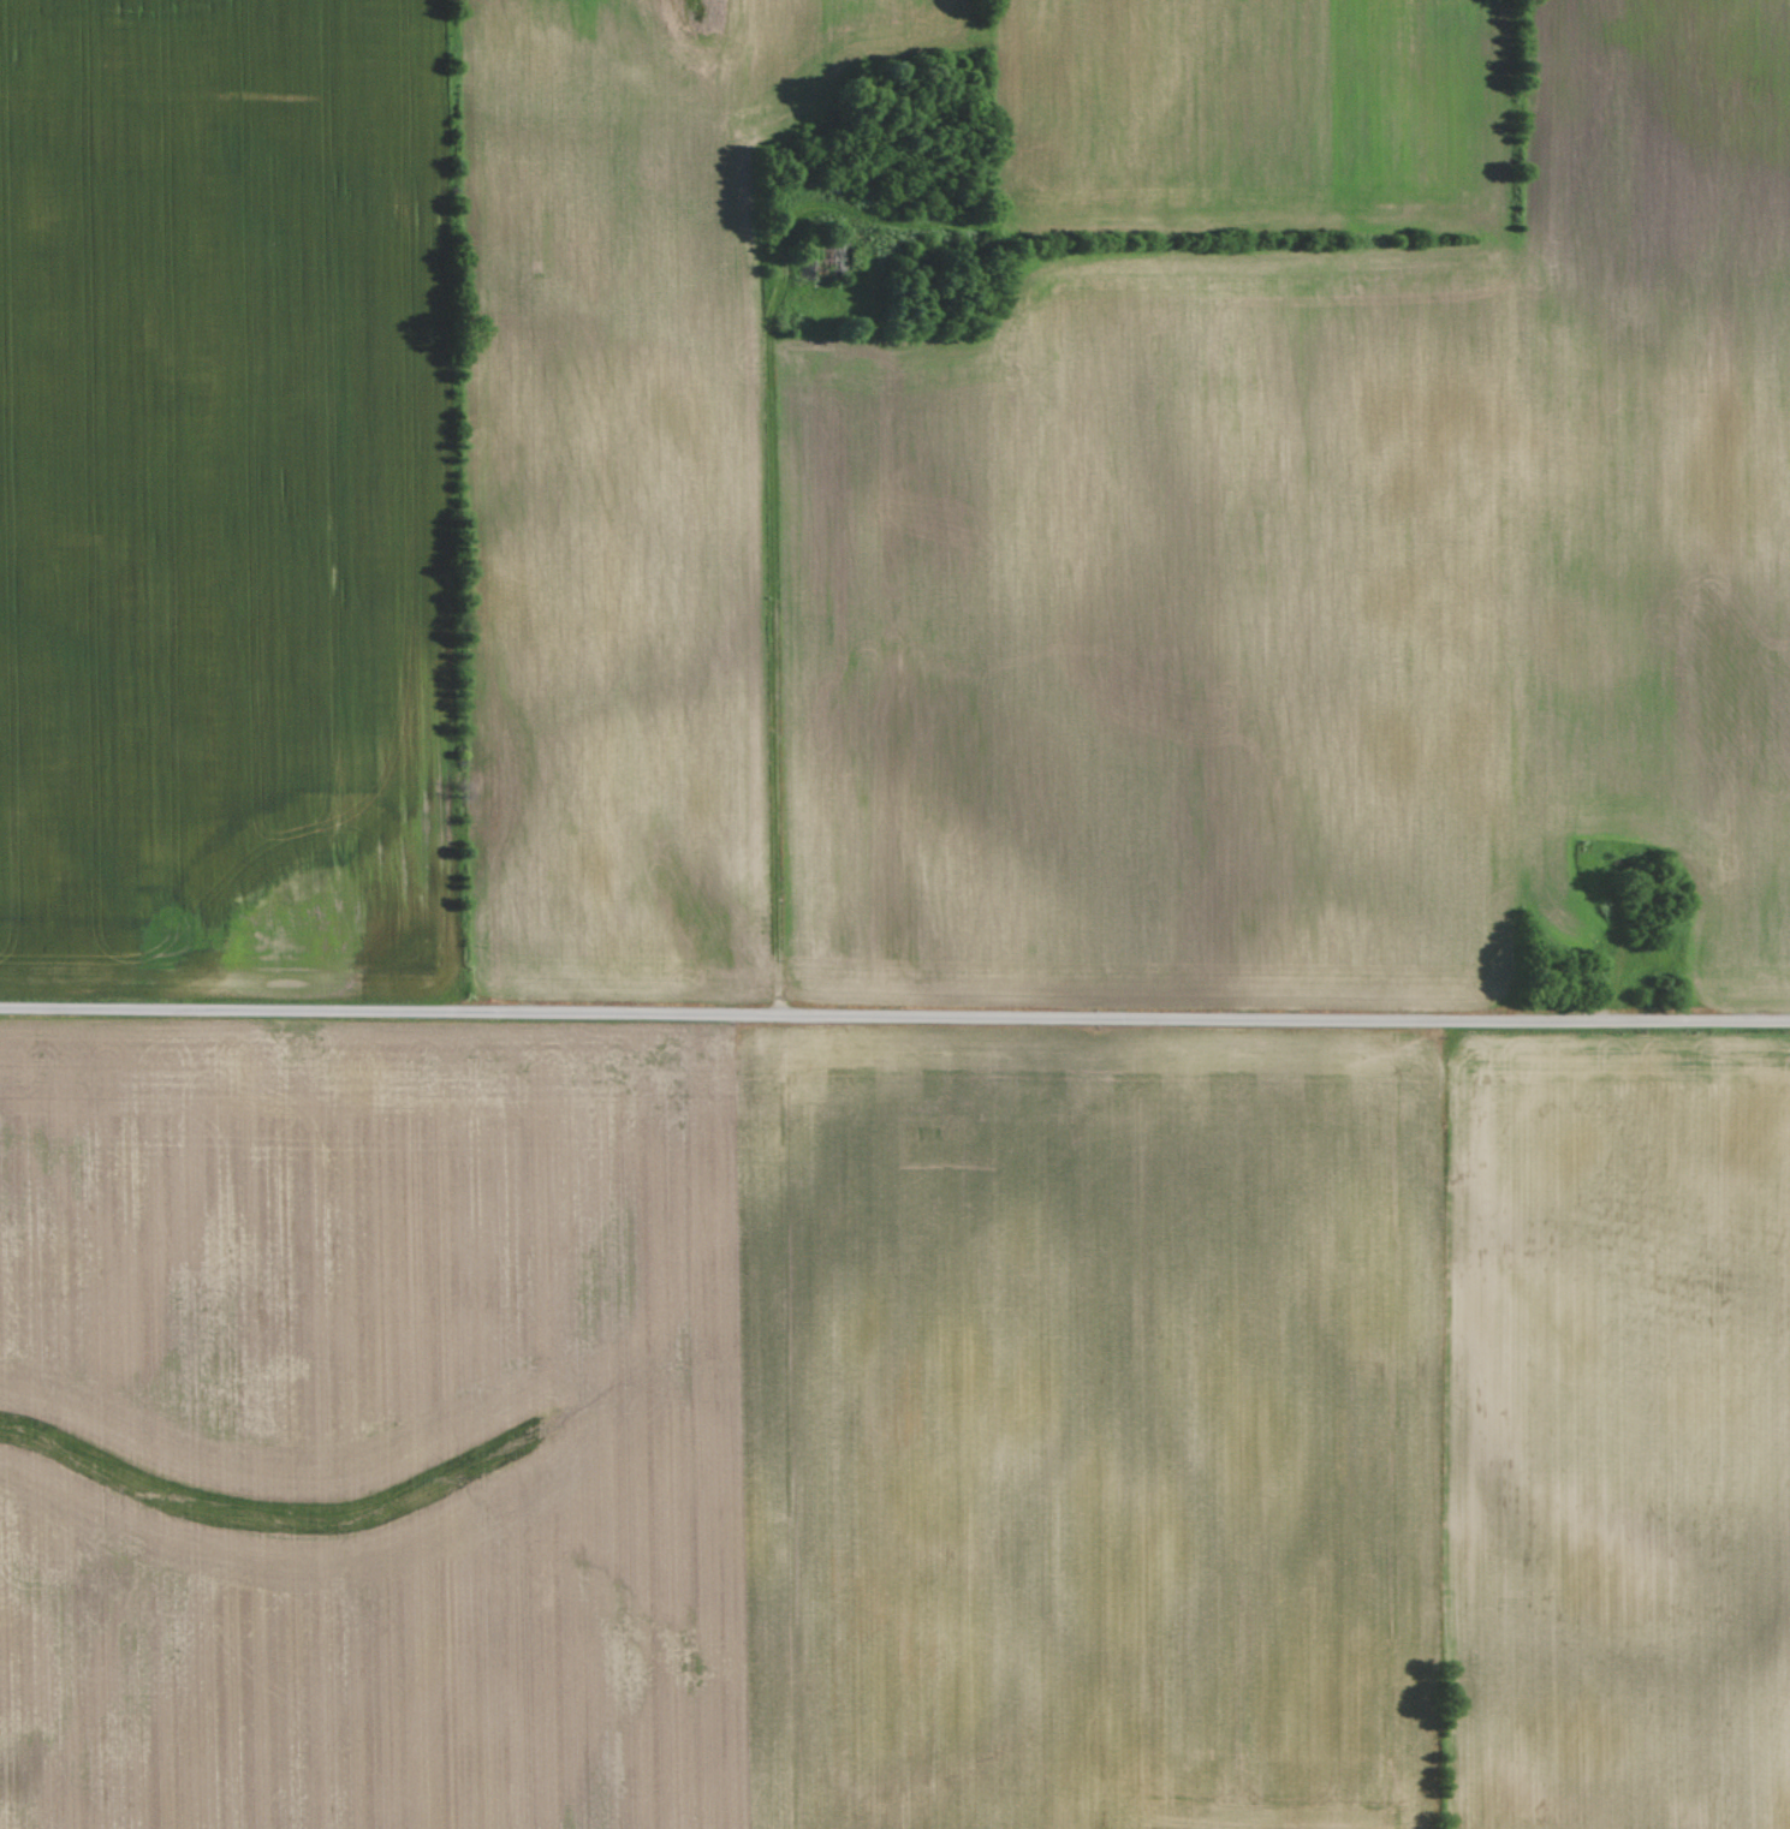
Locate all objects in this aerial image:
road: (894, 1017)

